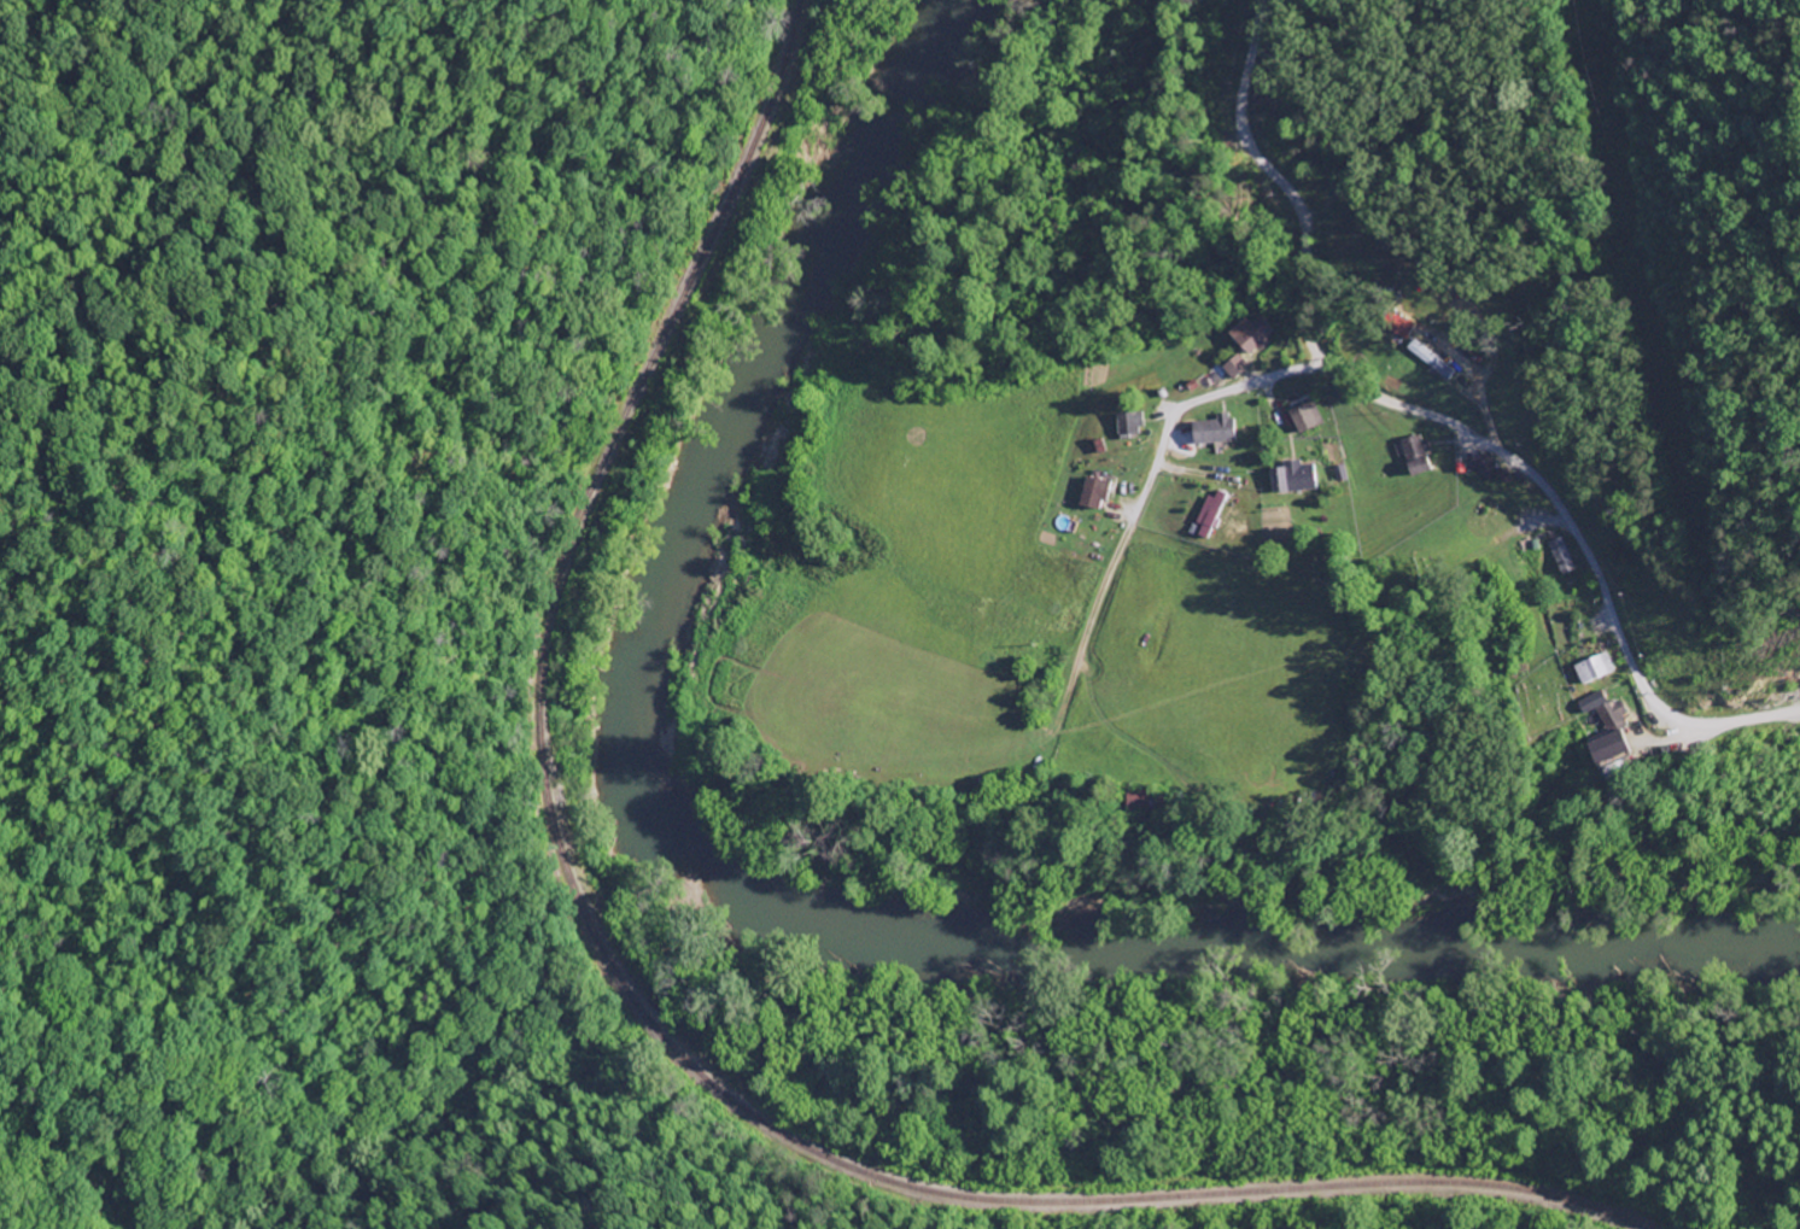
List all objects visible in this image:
building: (1403, 330)
building: (1253, 336)
building: (1432, 362)
building: (1237, 368)
road: (1372, 402)
building: (1307, 419)
building: (1130, 425)
building: (1215, 432)
building: (1486, 469)
building: (1292, 479)
road: (1152, 485)
building: (1095, 494)
building: (1212, 514)
building: (1562, 557)
building: (1595, 669)
building: (1612, 716)
road: (1728, 727)
building: (1609, 749)
building: (1139, 802)
river: (771, 913)
railway: (633, 1005)

